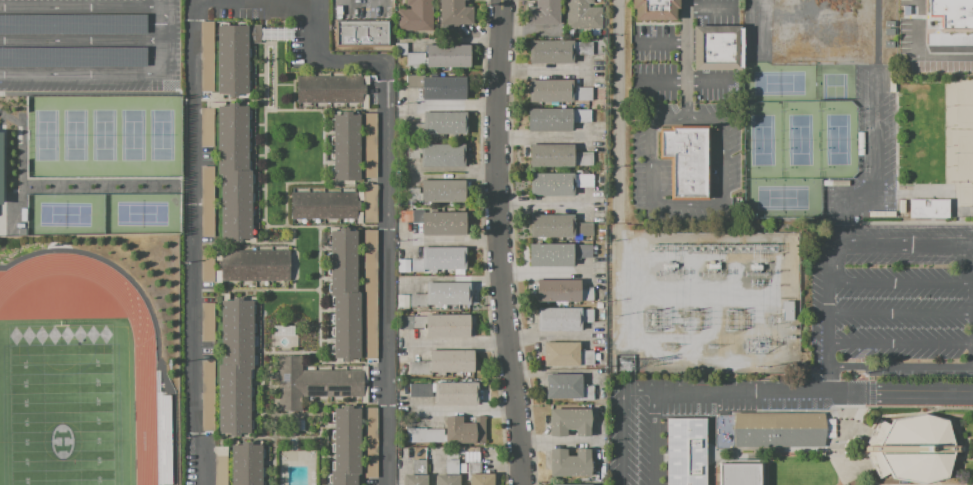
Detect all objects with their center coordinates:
road: (264, 0)
road: (291, 0)
road: (162, 3)
road: (81, 7)
road: (708, 7)
building: (655, 9)
building: (454, 12)
parking lot: (715, 12)
building: (543, 13)
building: (951, 14)
building: (583, 15)
building: (416, 16)
road: (162, 24)
building: (74, 25)
road: (763, 28)
parking lot: (904, 30)
building: (359, 31)
building: (267, 34)
road: (81, 41)
road: (662, 42)
parking lot: (89, 45)
building: (583, 48)
building: (717, 48)
building: (400, 49)
building: (551, 51)
road: (920, 51)
building: (207, 56)
building: (441, 56)
building: (74, 58)
road: (685, 59)
building: (232, 60)
parking lot: (653, 62)
road: (96, 73)
road: (663, 81)
park: (778, 82)
park: (834, 82)
parking lot: (715, 85)
building: (438, 87)
building: (332, 90)
building: (556, 91)
road: (4, 93)
road: (2, 94)
park: (958, 103)
street lamp: (947, 106)
road: (11, 119)
building: (555, 119)
parking lot: (876, 121)
building: (440, 124)
street lamp: (946, 126)
building: (207, 127)
road: (875, 135)
park: (102, 137)
park: (800, 139)
park: (837, 139)
park: (762, 140)
building: (369, 146)
street lamp: (946, 146)
road: (22, 147)
building: (346, 148)
building: (438, 155)
park: (958, 155)
building: (558, 156)
building: (686, 161)
building: (1, 166)
street lamp: (946, 167)
building: (234, 172)
parking lot: (650, 181)
street lamp: (959, 182)
building: (558, 183)
road: (897, 188)
building: (437, 192)
road: (126, 194)
park: (781, 197)
building: (207, 201)
building: (370, 204)
building: (326, 206)
road: (687, 206)
building: (928, 208)
park: (141, 214)
park: (65, 215)
street lamp: (859, 219)
road: (932, 220)
building: (436, 222)
road: (918, 222)
building: (558, 226)
road: (3, 227)
road: (482, 243)
road: (495, 243)
road: (512, 243)
road: (910, 244)
building: (557, 254)
building: (439, 259)
building: (254, 265)
building: (207, 266)
road: (902, 282)
building: (561, 291)
building: (345, 294)
building: (370, 294)
building: (442, 295)
street lamp: (834, 297)
parking lot: (894, 297)
street lamp: (918, 298)
power substation: (704, 299)
road: (150, 310)
building: (786, 310)
road: (831, 310)
road: (902, 313)
building: (563, 318)
building: (208, 322)
building: (440, 325)
road: (901, 343)
building: (566, 355)
building: (443, 363)
power tower: (627, 366)
building: (235, 367)
road: (902, 367)
power tower: (763, 369)
building: (313, 383)
road: (867, 386)
building: (567, 387)
building: (446, 392)
road: (814, 392)
building: (208, 396)
park: (61, 405)
road: (841, 405)
road: (858, 405)
park: (64, 406)
road: (465, 409)
parking lot: (685, 414)
road: (894, 414)
track: (145, 415)
road: (684, 415)
building: (569, 421)
road: (624, 422)
building: (778, 429)
building: (451, 432)
road: (734, 437)
road: (655, 438)
road: (712, 438)
building: (164, 440)
building: (370, 443)
building: (346, 446)
building: (911, 449)
building: (685, 451)
road: (766, 451)
street lamp: (822, 454)
building: (570, 463)
building: (246, 464)
street lamp: (717, 465)
building: (221, 466)
road: (767, 468)
building: (416, 474)
building: (449, 474)
building: (741, 474)
building: (478, 475)
road: (837, 482)
road: (936, 483)
building: (567, 484)
road: (839, 484)
road: (917, 484)

